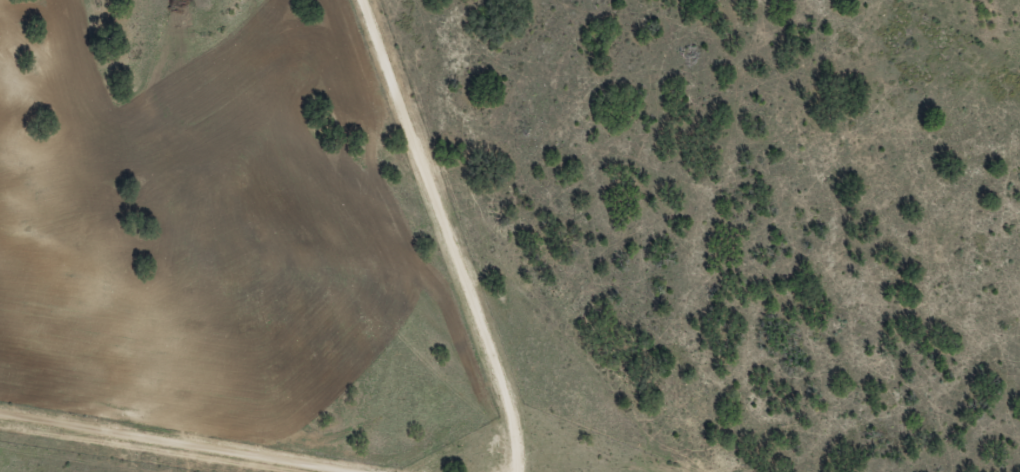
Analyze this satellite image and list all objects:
road: (159, 452)

